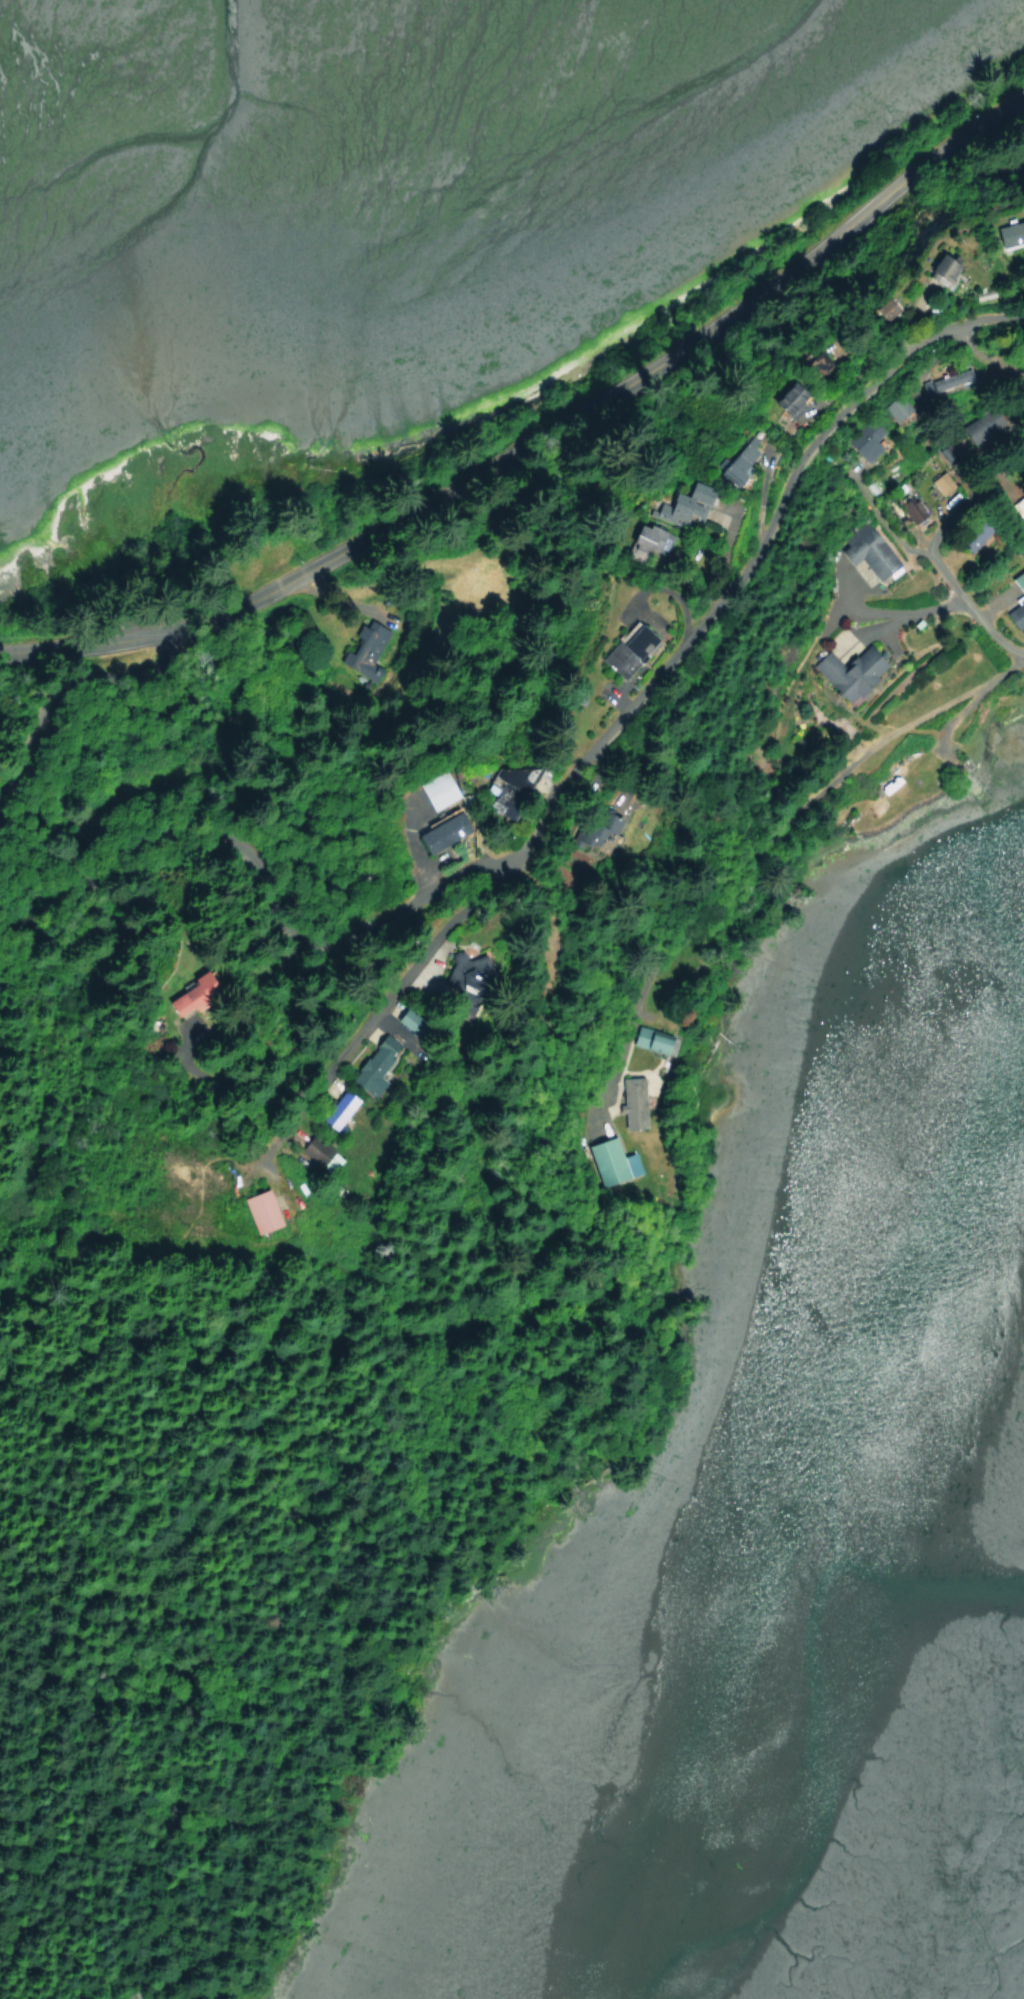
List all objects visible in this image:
building: (1008, 232)
building: (936, 268)
building: (878, 308)
road: (984, 356)
building: (945, 386)
building: (785, 398)
road: (543, 439)
building: (864, 440)
building: (738, 457)
building: (940, 482)
building: (682, 504)
building: (912, 507)
building: (643, 538)
building: (968, 542)
building: (867, 551)
road: (934, 551)
building: (1016, 602)
road: (894, 611)
building: (369, 640)
building: (625, 650)
building: (848, 672)
road: (54, 708)
road: (628, 710)
building: (513, 776)
building: (435, 790)
building: (596, 828)
road: (754, 847)
road: (257, 881)
building: (466, 971)
building: (190, 995)
building: (401, 1015)
building: (649, 1040)
building: (370, 1070)
building: (631, 1102)
building: (338, 1109)
building: (314, 1150)
building: (610, 1162)
building: (259, 1210)
road: (147, 1441)

